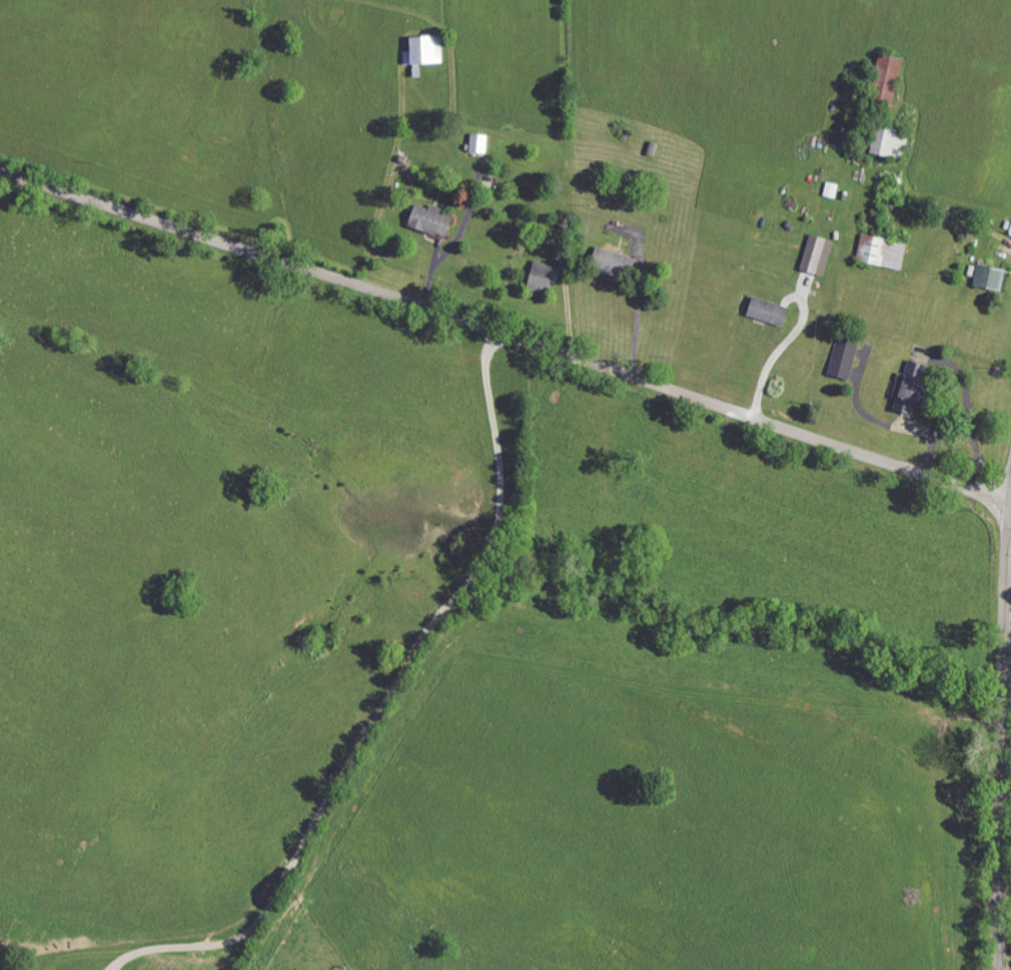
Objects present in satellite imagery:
building: (429, 51)
building: (891, 76)
building: (480, 142)
building: (433, 220)
building: (819, 255)
building: (619, 263)
building: (544, 277)
building: (992, 277)
building: (771, 311)
road: (637, 327)
road: (507, 336)
building: (845, 357)
building: (914, 389)
road: (385, 703)
road: (1000, 734)

